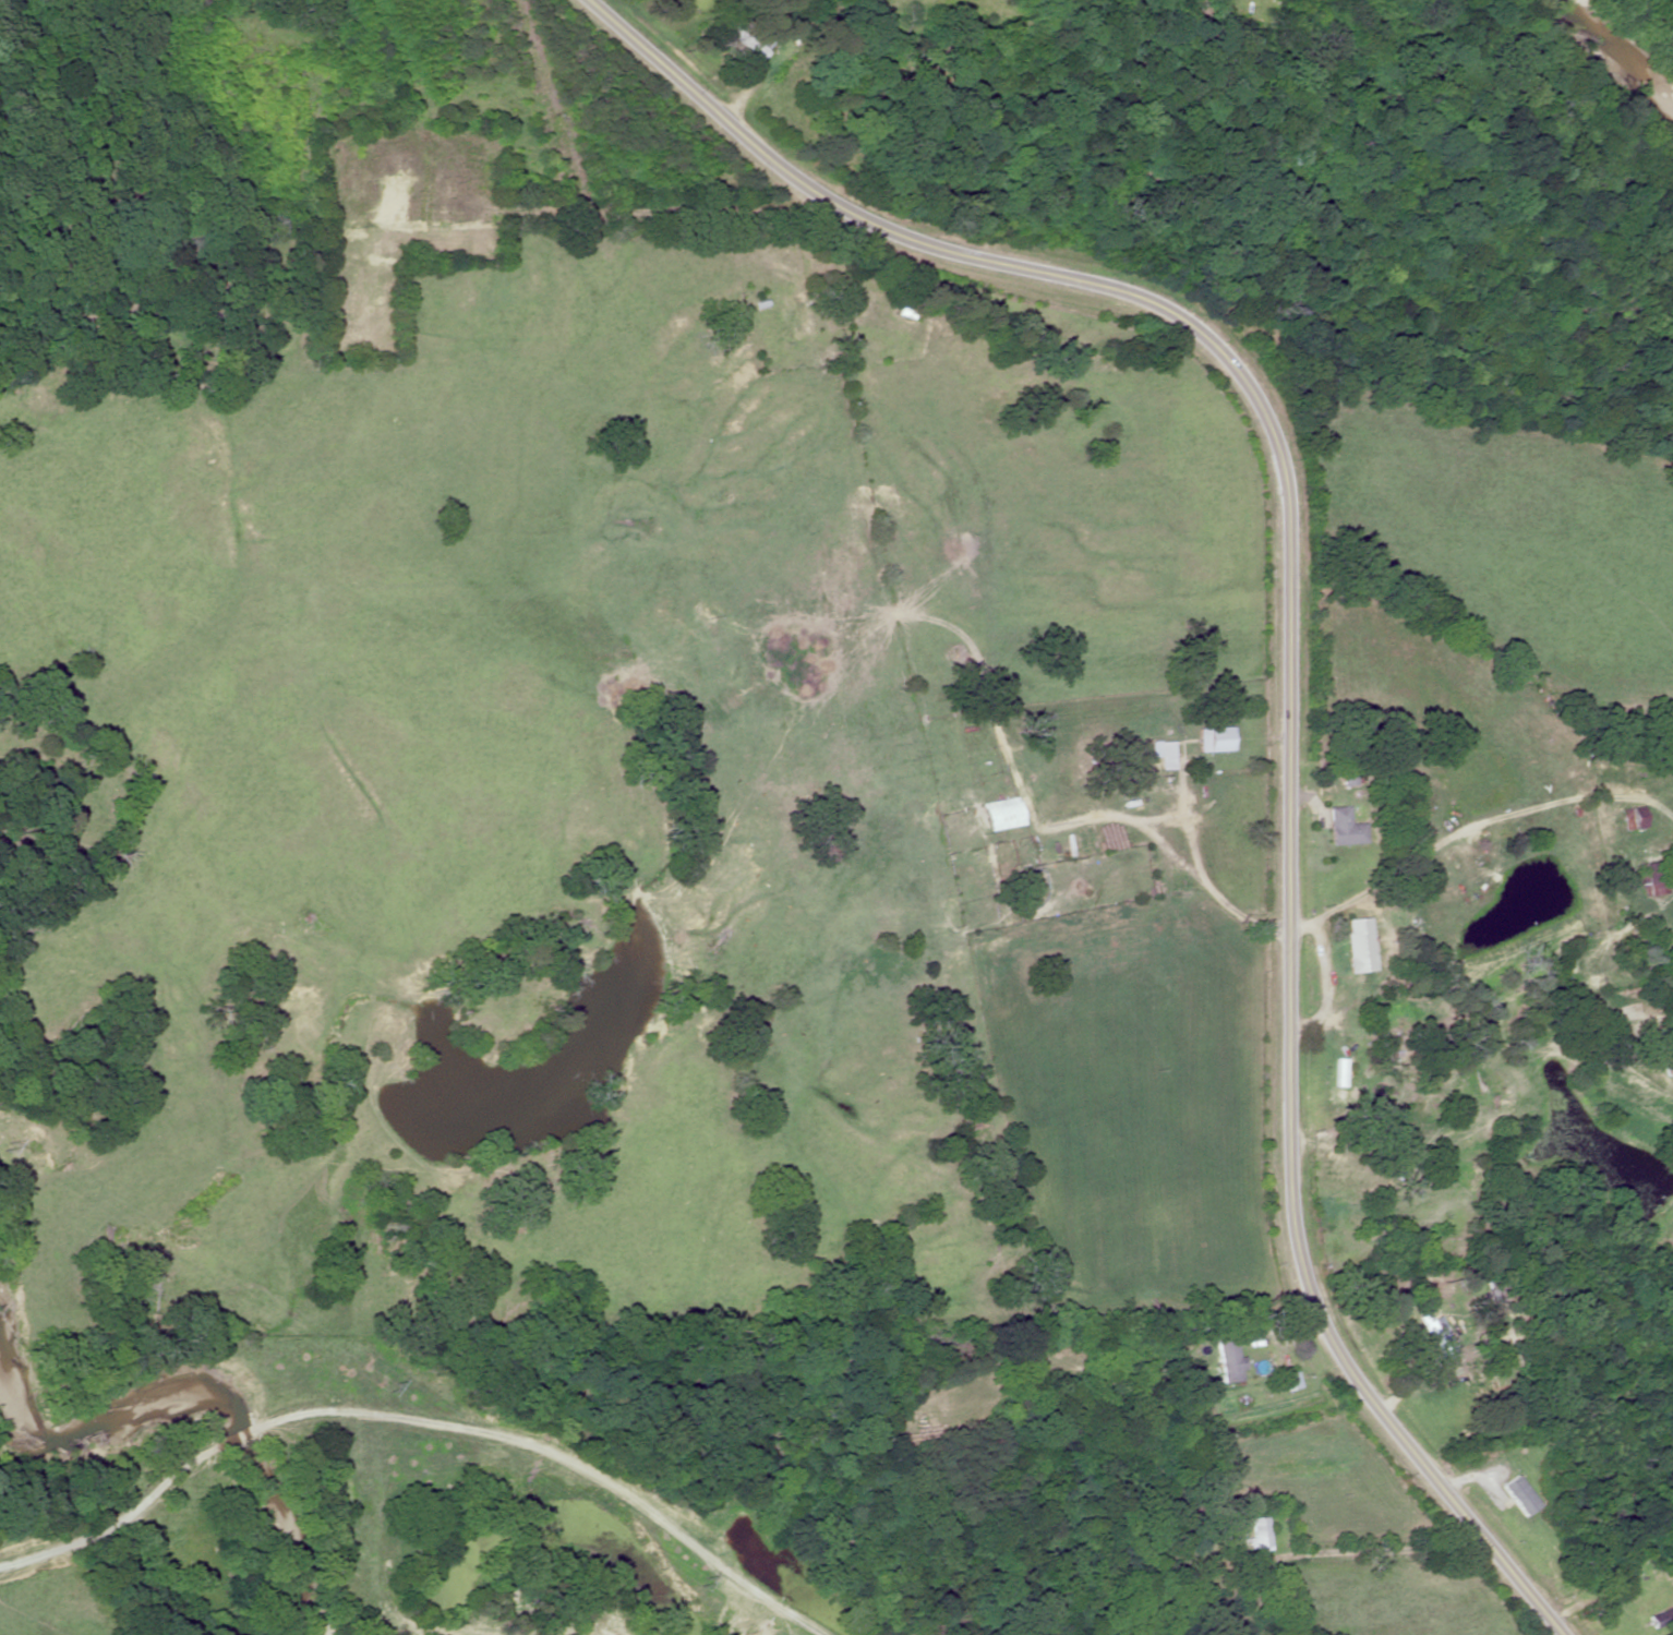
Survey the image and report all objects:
building: (749, 62)
building: (903, 308)
building: (794, 315)
road: (1289, 663)
building: (1213, 740)
building: (1162, 754)
building: (1349, 773)
building: (1000, 814)
building: (1628, 819)
building: (1343, 828)
building: (1647, 878)
building: (1356, 945)
building: (1337, 1078)
building: (1433, 1337)
building: (1227, 1378)
building: (1515, 1495)
building: (1254, 1532)
building: (1654, 1618)

